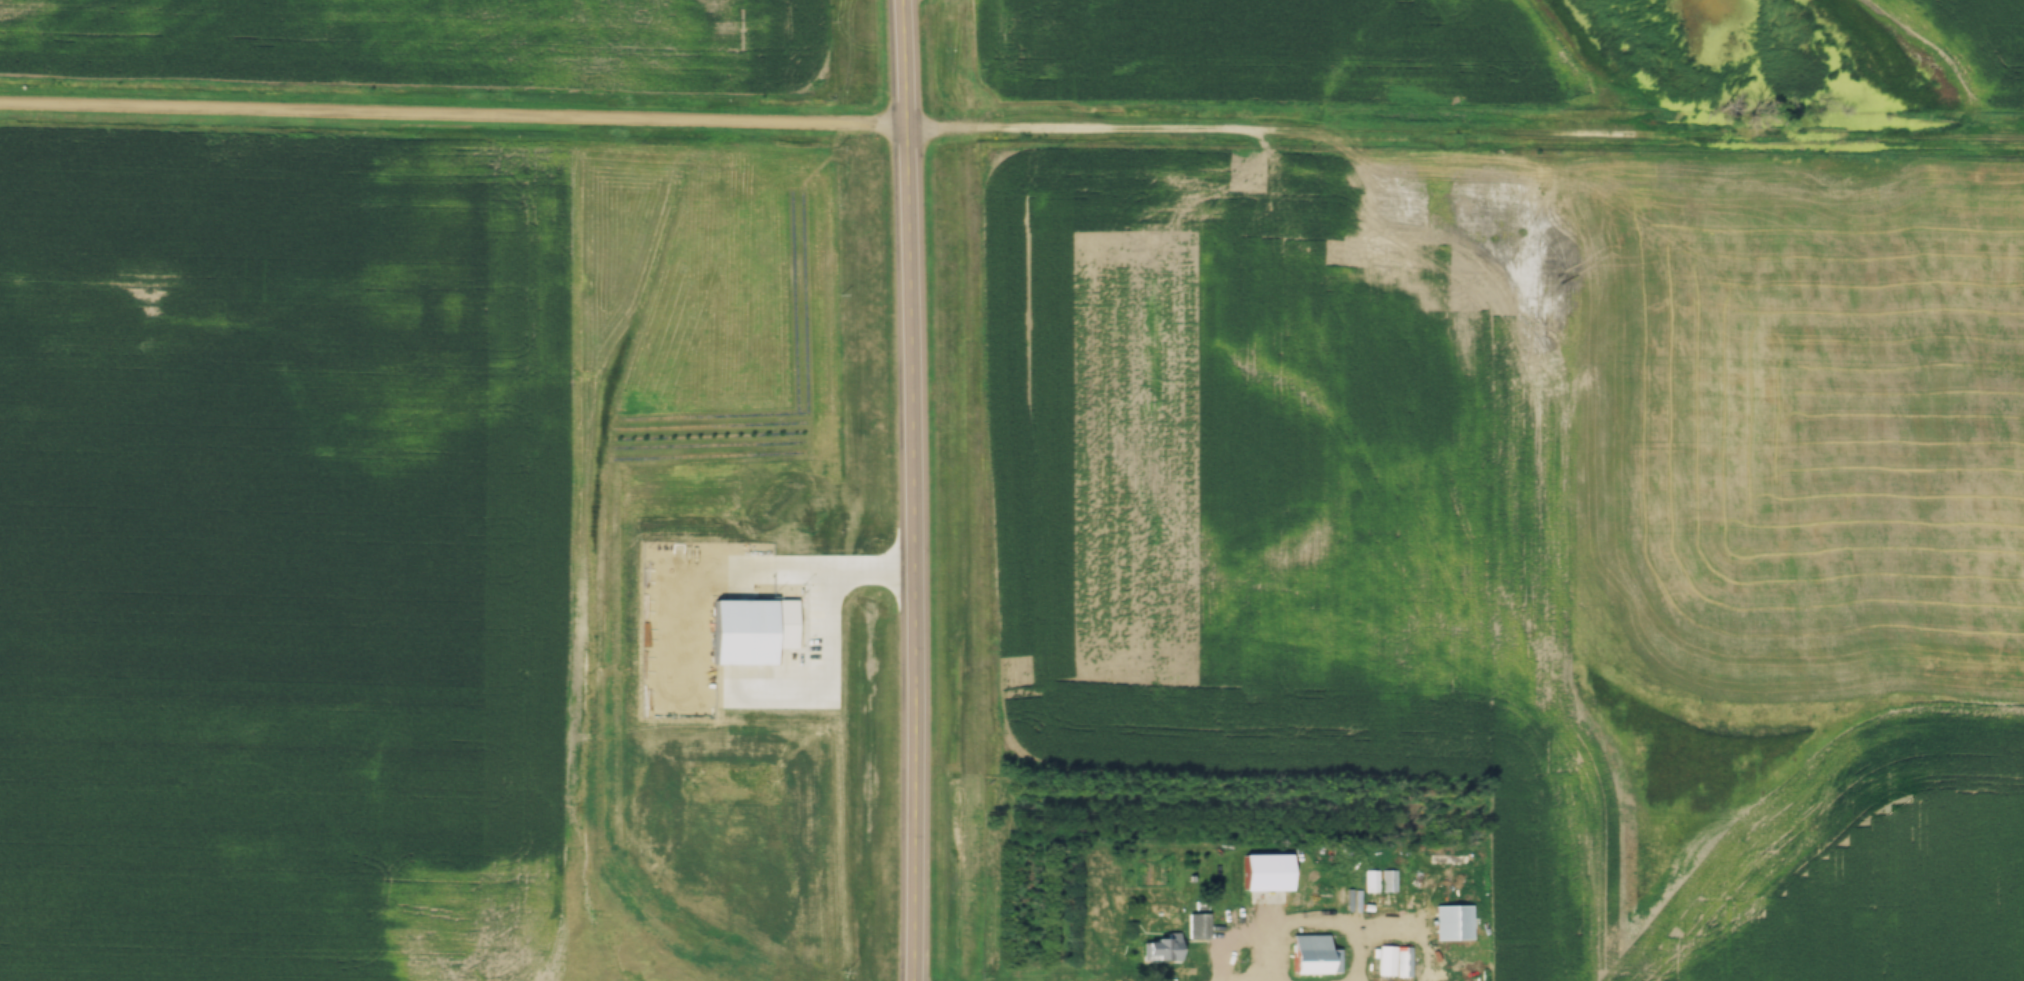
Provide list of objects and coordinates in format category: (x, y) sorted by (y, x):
road: (454, 109)
road: (1466, 127)
road: (907, 490)
building: (1454, 921)
road: (1314, 922)
building: (1196, 927)
building: (1161, 949)
building: (1313, 956)
building: (1394, 963)

